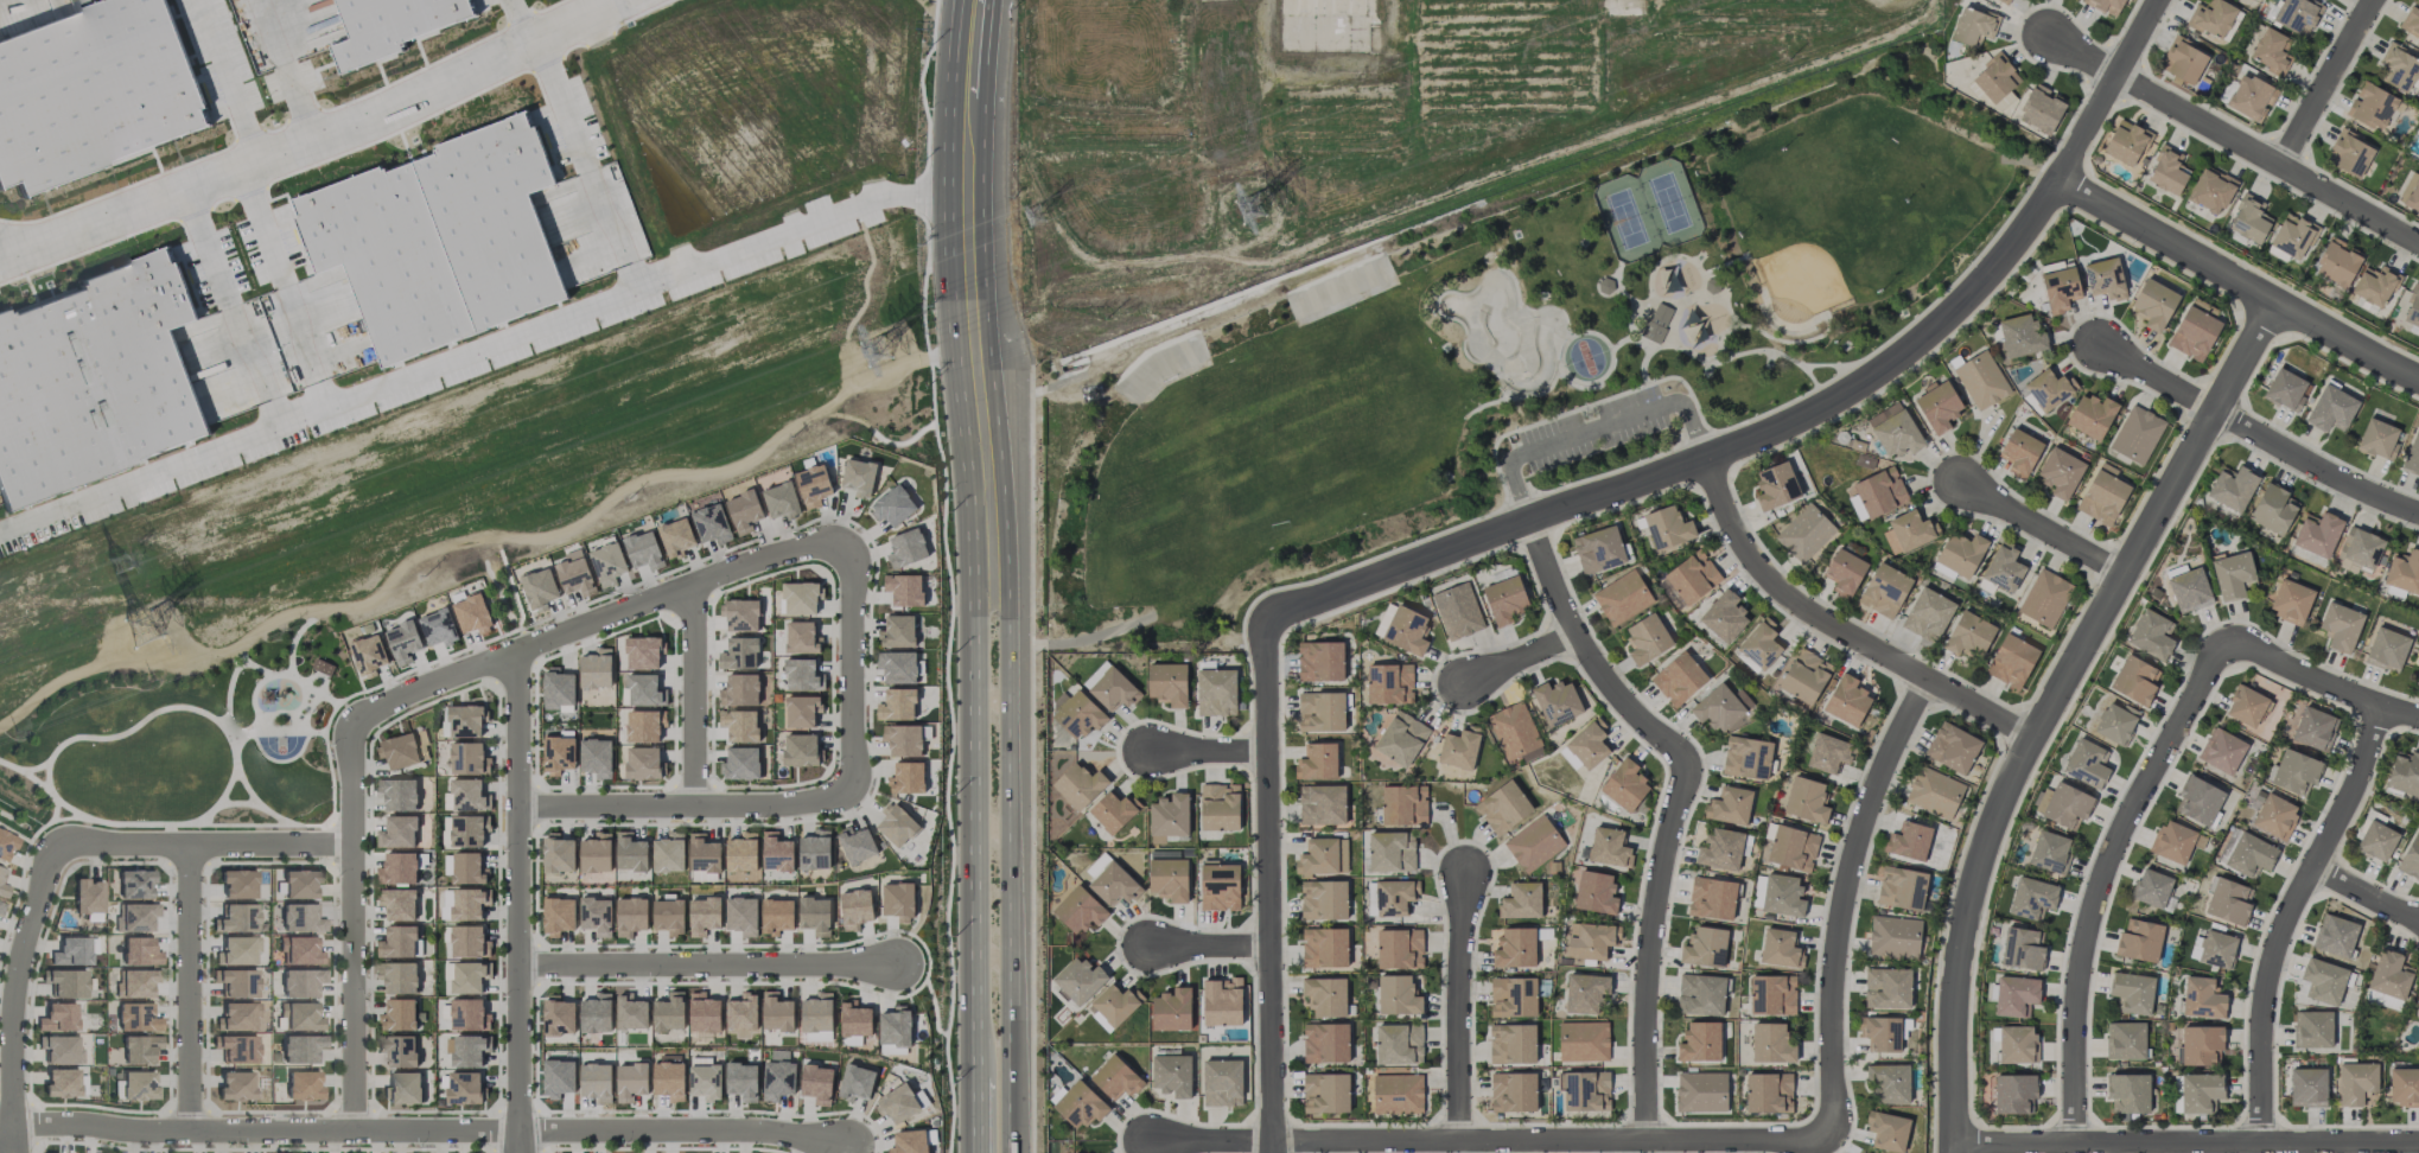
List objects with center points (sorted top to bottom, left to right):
building: (2004, 0)
building: (2106, 6)
road: (835, 7)
building: (2296, 15)
road: (518, 17)
building: (2211, 18)
building: (2412, 19)
building: (384, 24)
building: (1973, 26)
road: (598, 33)
road: (275, 46)
road: (545, 49)
building: (2270, 50)
road: (216, 55)
building: (2184, 59)
building: (2399, 68)
building: (1995, 78)
road: (2328, 82)
building: (89, 85)
road: (2108, 88)
building: (2251, 96)
building: (2374, 107)
building: (2041, 108)
road: (301, 113)
road: (246, 132)
road: (2232, 135)
road: (303, 136)
building: (2126, 142)
building: (2349, 153)
road: (644, 164)
building: (2167, 171)
road: (594, 176)
road: (247, 185)
building: (2210, 190)
road: (921, 191)
building: (2411, 192)
road: (192, 206)
park: (1648, 209)
power tower: (1252, 210)
building: (492, 211)
power tower: (1038, 215)
building: (2249, 219)
building: (2293, 235)
building: (384, 251)
building: (2337, 262)
building: (2105, 278)
road: (2236, 281)
building: (1605, 285)
building: (1711, 285)
building: (2375, 285)
road: (970, 286)
building: (2060, 288)
road: (289, 304)
building: (2154, 304)
building: (2203, 306)
building: (1656, 321)
road: (238, 325)
park: (1507, 333)
building: (2194, 333)
building: (2020, 336)
building: (128, 352)
power tower: (879, 353)
road: (437, 356)
park: (1507, 357)
park: (1586, 358)
building: (1981, 380)
building: (2050, 388)
building: (2285, 389)
building: (1937, 406)
building: (2331, 409)
building: (38, 410)
building: (2090, 415)
parking lot: (1593, 429)
road: (1593, 429)
building: (1895, 431)
building: (2137, 434)
road: (2254, 435)
building: (2377, 439)
building: (2019, 453)
building: (2412, 454)
road: (1702, 460)
building: (2060, 472)
building: (858, 477)
building: (813, 485)
building: (1776, 485)
building: (2232, 488)
building: (1877, 493)
building: (2102, 495)
building: (781, 501)
building: (892, 505)
building: (2273, 509)
building: (743, 511)
building: (711, 523)
building: (1667, 527)
road: (2041, 527)
building: (1909, 531)
building: (1804, 533)
building: (2317, 534)
building: (675, 536)
building: (906, 548)
building: (2360, 548)
building: (1598, 549)
building: (643, 550)
building: (1961, 553)
power tower: (119, 563)
building: (607, 563)
building: (2004, 567)
building: (1844, 572)
building: (2404, 572)
building: (574, 573)
building: (2233, 575)
building: (1692, 576)
building: (539, 587)
building: (903, 588)
building: (1884, 590)
building: (2189, 590)
building: (1622, 597)
building: (798, 598)
building: (2044, 598)
building: (1504, 599)
building: (2291, 601)
building: (1457, 611)
building: (471, 613)
building: (741, 614)
building: (1928, 614)
building: (1724, 617)
road: (588, 624)
building: (438, 626)
building: (2340, 626)
building: (1401, 628)
road: (1839, 630)
power tower: (144, 631)
building: (897, 631)
building: (1968, 635)
building: (2151, 635)
building: (801, 637)
building: (1647, 638)
building: (402, 642)
building: (1758, 646)
building: (2386, 649)
building: (368, 652)
building: (642, 652)
building: (739, 654)
road: (1521, 658)
building: (1320, 661)
building: (2011, 661)
building: (322, 667)
road: (853, 667)
building: (897, 667)
building: (596, 669)
building: (801, 675)
building: (2418, 675)
building: (1804, 676)
building: (1679, 679)
building: (2134, 680)
road: (2321, 682)
building: (1167, 683)
building: (1389, 683)
building: (558, 688)
building: (643, 689)
building: (739, 689)
building: (1113, 689)
building: (1216, 692)
road: (693, 694)
building: (1847, 700)
building: (1557, 702)
building: (897, 705)
building: (2246, 706)
building: (1720, 707)
road: (2049, 707)
building: (801, 711)
building: (1320, 711)
building: (1078, 715)
building: (464, 720)
building: (2115, 722)
building: (739, 725)
building: (642, 726)
building: (2312, 727)
road: (975, 728)
building: (1514, 730)
building: (1401, 738)
building: (902, 739)
building: (1589, 744)
building: (1459, 747)
building: (1952, 747)
building: (800, 750)
road: (1208, 750)
building: (400, 751)
building: (2222, 751)
building: (558, 753)
building: (1828, 753)
building: (596, 757)
building: (1568, 757)
building: (1746, 757)
building: (466, 758)
building: (1317, 762)
building: (642, 763)
building: (740, 763)
building: (2086, 764)
building: (2294, 772)
building: (2404, 773)
building: (906, 777)
building: (1080, 785)
building: (1625, 785)
building: (1934, 792)
building: (397, 794)
building: (466, 795)
building: (1806, 800)
building: (2198, 801)
road: (1678, 802)
road: (683, 803)
building: (1322, 804)
building: (1403, 804)
building: (2064, 804)
building: (1730, 805)
building: (1220, 807)
building: (1503, 807)
building: (1114, 810)
building: (1169, 816)
building: (2274, 816)
building: (896, 826)
building: (466, 830)
building: (397, 832)
road: (204, 841)
building: (1908, 841)
building: (2172, 841)
building: (2376, 841)
building: (1534, 843)
building: (5, 845)
building: (857, 845)
building: (1609, 847)
building: (1793, 848)
building: (1720, 849)
building: (814, 851)
building: (1390, 851)
building: (2049, 851)
building: (630, 852)
building: (776, 852)
building: (596, 853)
building: (668, 853)
building: (704, 853)
building: (741, 853)
building: (558, 854)
building: (2249, 855)
building: (1323, 856)
building: (2410, 858)
road: (1011, 861)
building: (1096, 866)
building: (467, 867)
building: (397, 868)
building: (0, 872)
road: (2101, 875)
building: (1169, 878)
building: (134, 884)
building: (237, 884)
building: (299, 884)
building: (1114, 884)
road: (1269, 886)
building: (1220, 887)
building: (1902, 887)
building: (2152, 887)
building: (2, 890)
road: (518, 891)
building: (1594, 892)
road: (2366, 892)
building: (87, 896)
building: (1782, 896)
building: (1394, 897)
building: (1712, 898)
building: (2031, 898)
building: (1324, 899)
road: (1844, 899)
building: (898, 900)
building: (1521, 900)
building: (2227, 902)
building: (397, 903)
building: (464, 903)
building: (854, 909)
building: (1078, 910)
building: (558, 915)
building: (704, 915)
building: (815, 915)
building: (596, 916)
building: (630, 916)
building: (668, 916)
building: (741, 916)
building: (776, 916)
building: (134, 917)
building: (297, 917)
building: (235, 918)
road: (2290, 918)
road: (350, 929)
building: (2335, 935)
building: (1893, 937)
building: (1591, 939)
building: (2139, 939)
building: (397, 942)
road: (1207, 947)
building: (1324, 947)
building: (1400, 948)
building: (1515, 948)
building: (1705, 948)
building: (1780, 948)
building: (2022, 949)
building: (2214, 949)
building: (234, 950)
building: (298, 950)
building: (71, 951)
building: (138, 951)
road: (705, 964)
building: (2389, 974)
building: (397, 976)
building: (467, 977)
road: (15, 979)
building: (1080, 980)
road: (979, 981)
building: (2324, 981)
building: (64, 982)
building: (235, 982)
building: (299, 982)
building: (133, 983)
road: (189, 983)
building: (1888, 988)
building: (2132, 992)
building: (1585, 993)
building: (1701, 994)
building: (2014, 994)
building: (1325, 995)
building: (1398, 995)
building: (1771, 995)
building: (1513, 996)
building: (2202, 998)
building: (1222, 1001)
building: (1115, 1004)
road: (1459, 1006)
building: (1171, 1009)
building: (669, 1012)
building: (741, 1012)
building: (776, 1012)
building: (464, 1013)
building: (596, 1013)
building: (631, 1013)
building: (704, 1013)
building: (816, 1013)
building: (397, 1014)
building: (298, 1015)
building: (558, 1015)
building: (234, 1017)
building: (57, 1018)
building: (854, 1019)
building: (2312, 1028)
building: (1880, 1033)
building: (2125, 1040)
building: (1583, 1041)
building: (1700, 1041)
building: (1325, 1043)
building: (1511, 1043)
building: (1771, 1043)
building: (1399, 1044)
building: (2017, 1044)
building: (2201, 1044)
building: (57, 1049)
building: (138, 1049)
building: (235, 1049)
building: (299, 1049)
building: (397, 1050)
building: (465, 1050)
building: (1172, 1075)
building: (778, 1076)
building: (558, 1077)
building: (1115, 1077)
building: (669, 1079)
building: (596, 1081)
building: (630, 1081)
building: (741, 1081)
building: (61, 1082)
building: (705, 1082)
building: (857, 1082)
building: (1889, 1082)
building: (2356, 1082)
building: (816, 1083)
building: (1222, 1083)
building: (138, 1085)
building: (234, 1085)
building: (301, 1085)
building: (464, 1087)
building: (2307, 1087)
building: (2404, 1087)
building: (402, 1088)
building: (1585, 1090)
building: (1513, 1091)
building: (1701, 1091)
building: (2200, 1091)
building: (1325, 1093)
building: (1768, 1093)
building: (2013, 1093)
building: (2128, 1093)
building: (1398, 1094)
building: (897, 1103)
building: (1080, 1104)
road: (979, 1114)
road: (259, 1126)
road: (681, 1127)
building: (1888, 1130)
road: (5, 1139)
road: (13, 1139)
road: (1491, 1139)
road: (513, 1141)
road: (521, 1141)
building: (909, 1141)
road: (2185, 1142)
building: (1076, 1152)

